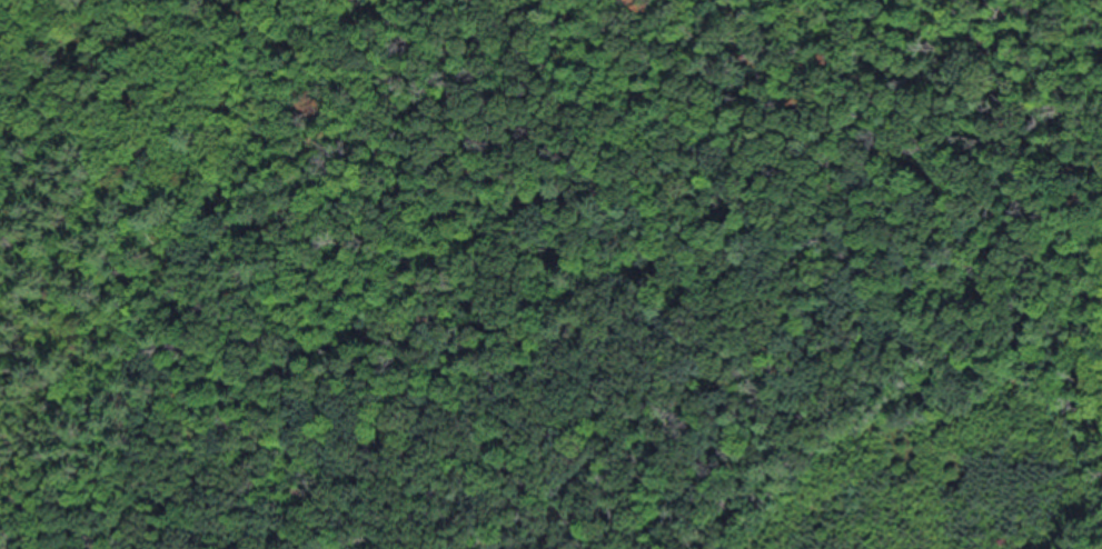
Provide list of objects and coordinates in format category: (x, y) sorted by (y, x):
park: (550, 274)

